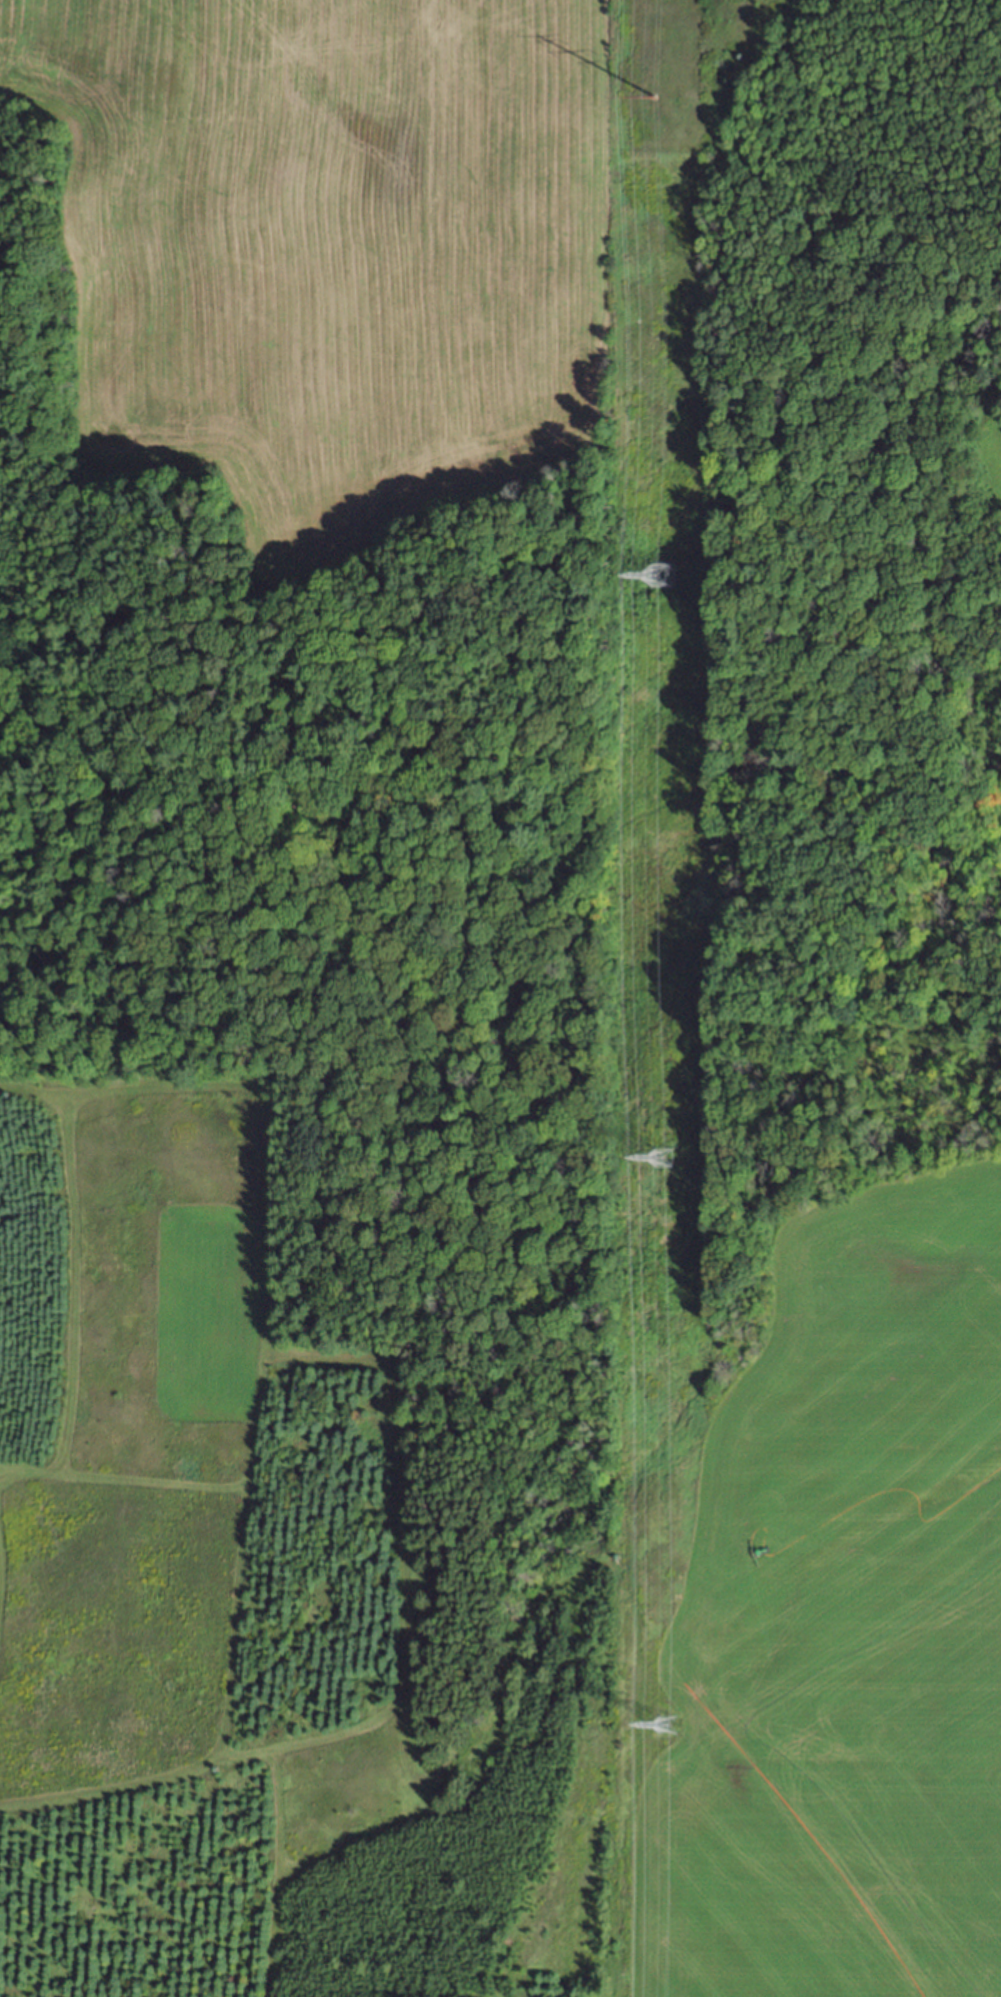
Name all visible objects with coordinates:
power tower: (654, 95)
power tower: (660, 575)
power tower: (663, 1159)
power tower: (662, 1724)

